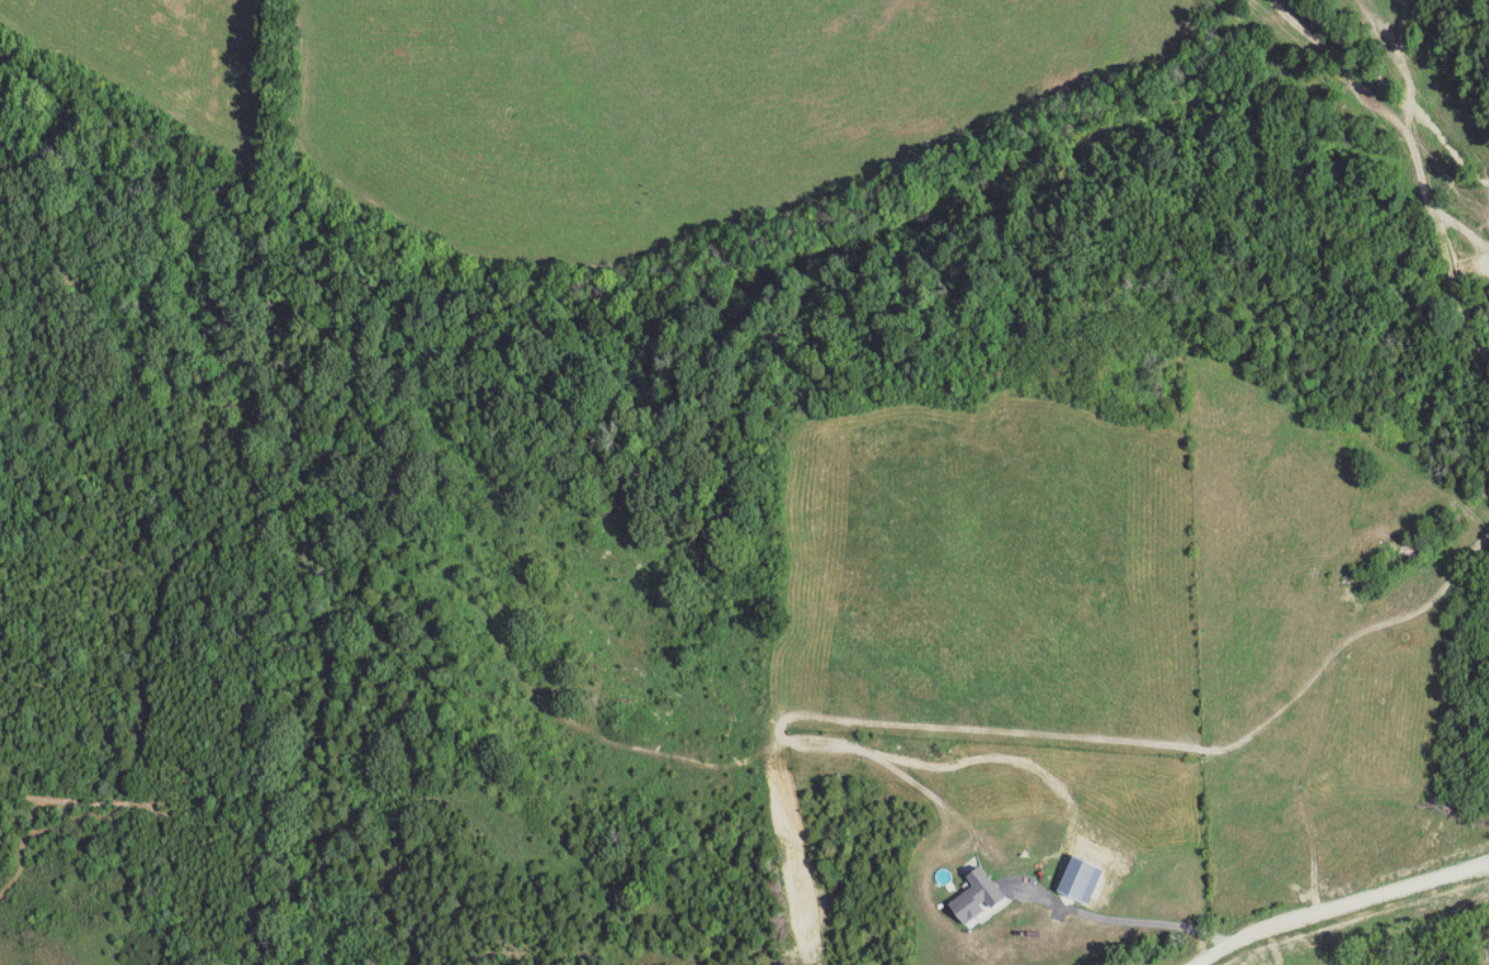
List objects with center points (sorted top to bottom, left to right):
road: (1434, 202)
road: (1467, 230)
road: (1330, 689)
building: (983, 897)
road: (1341, 908)
road: (1124, 925)

